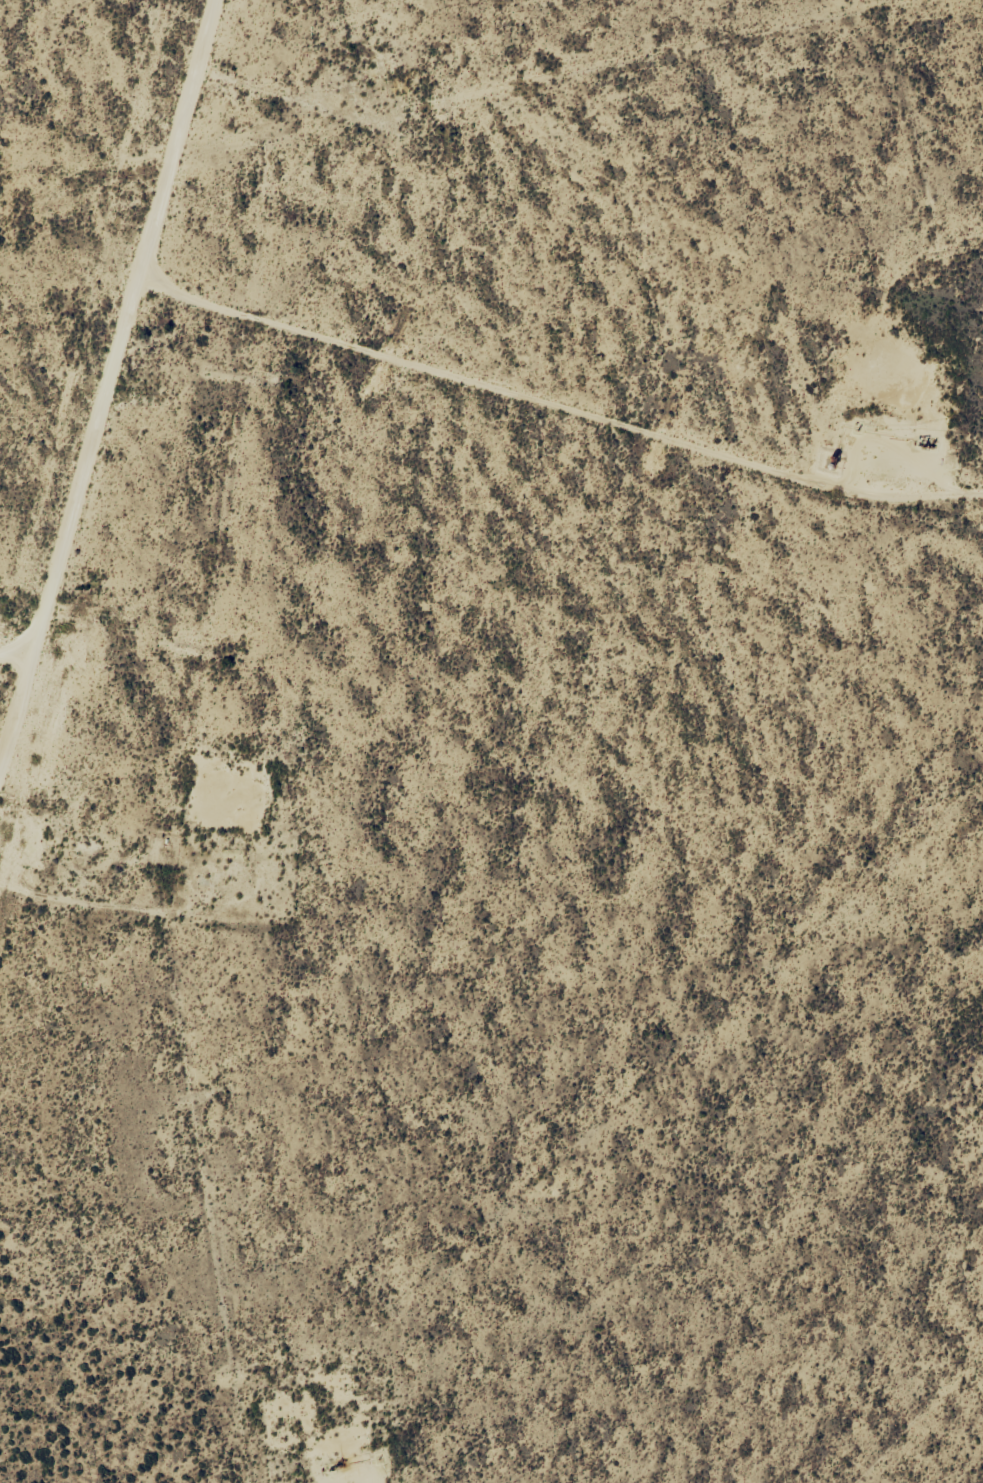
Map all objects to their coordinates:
road: (130, 346)
road: (11, 707)
road: (605, 1153)

